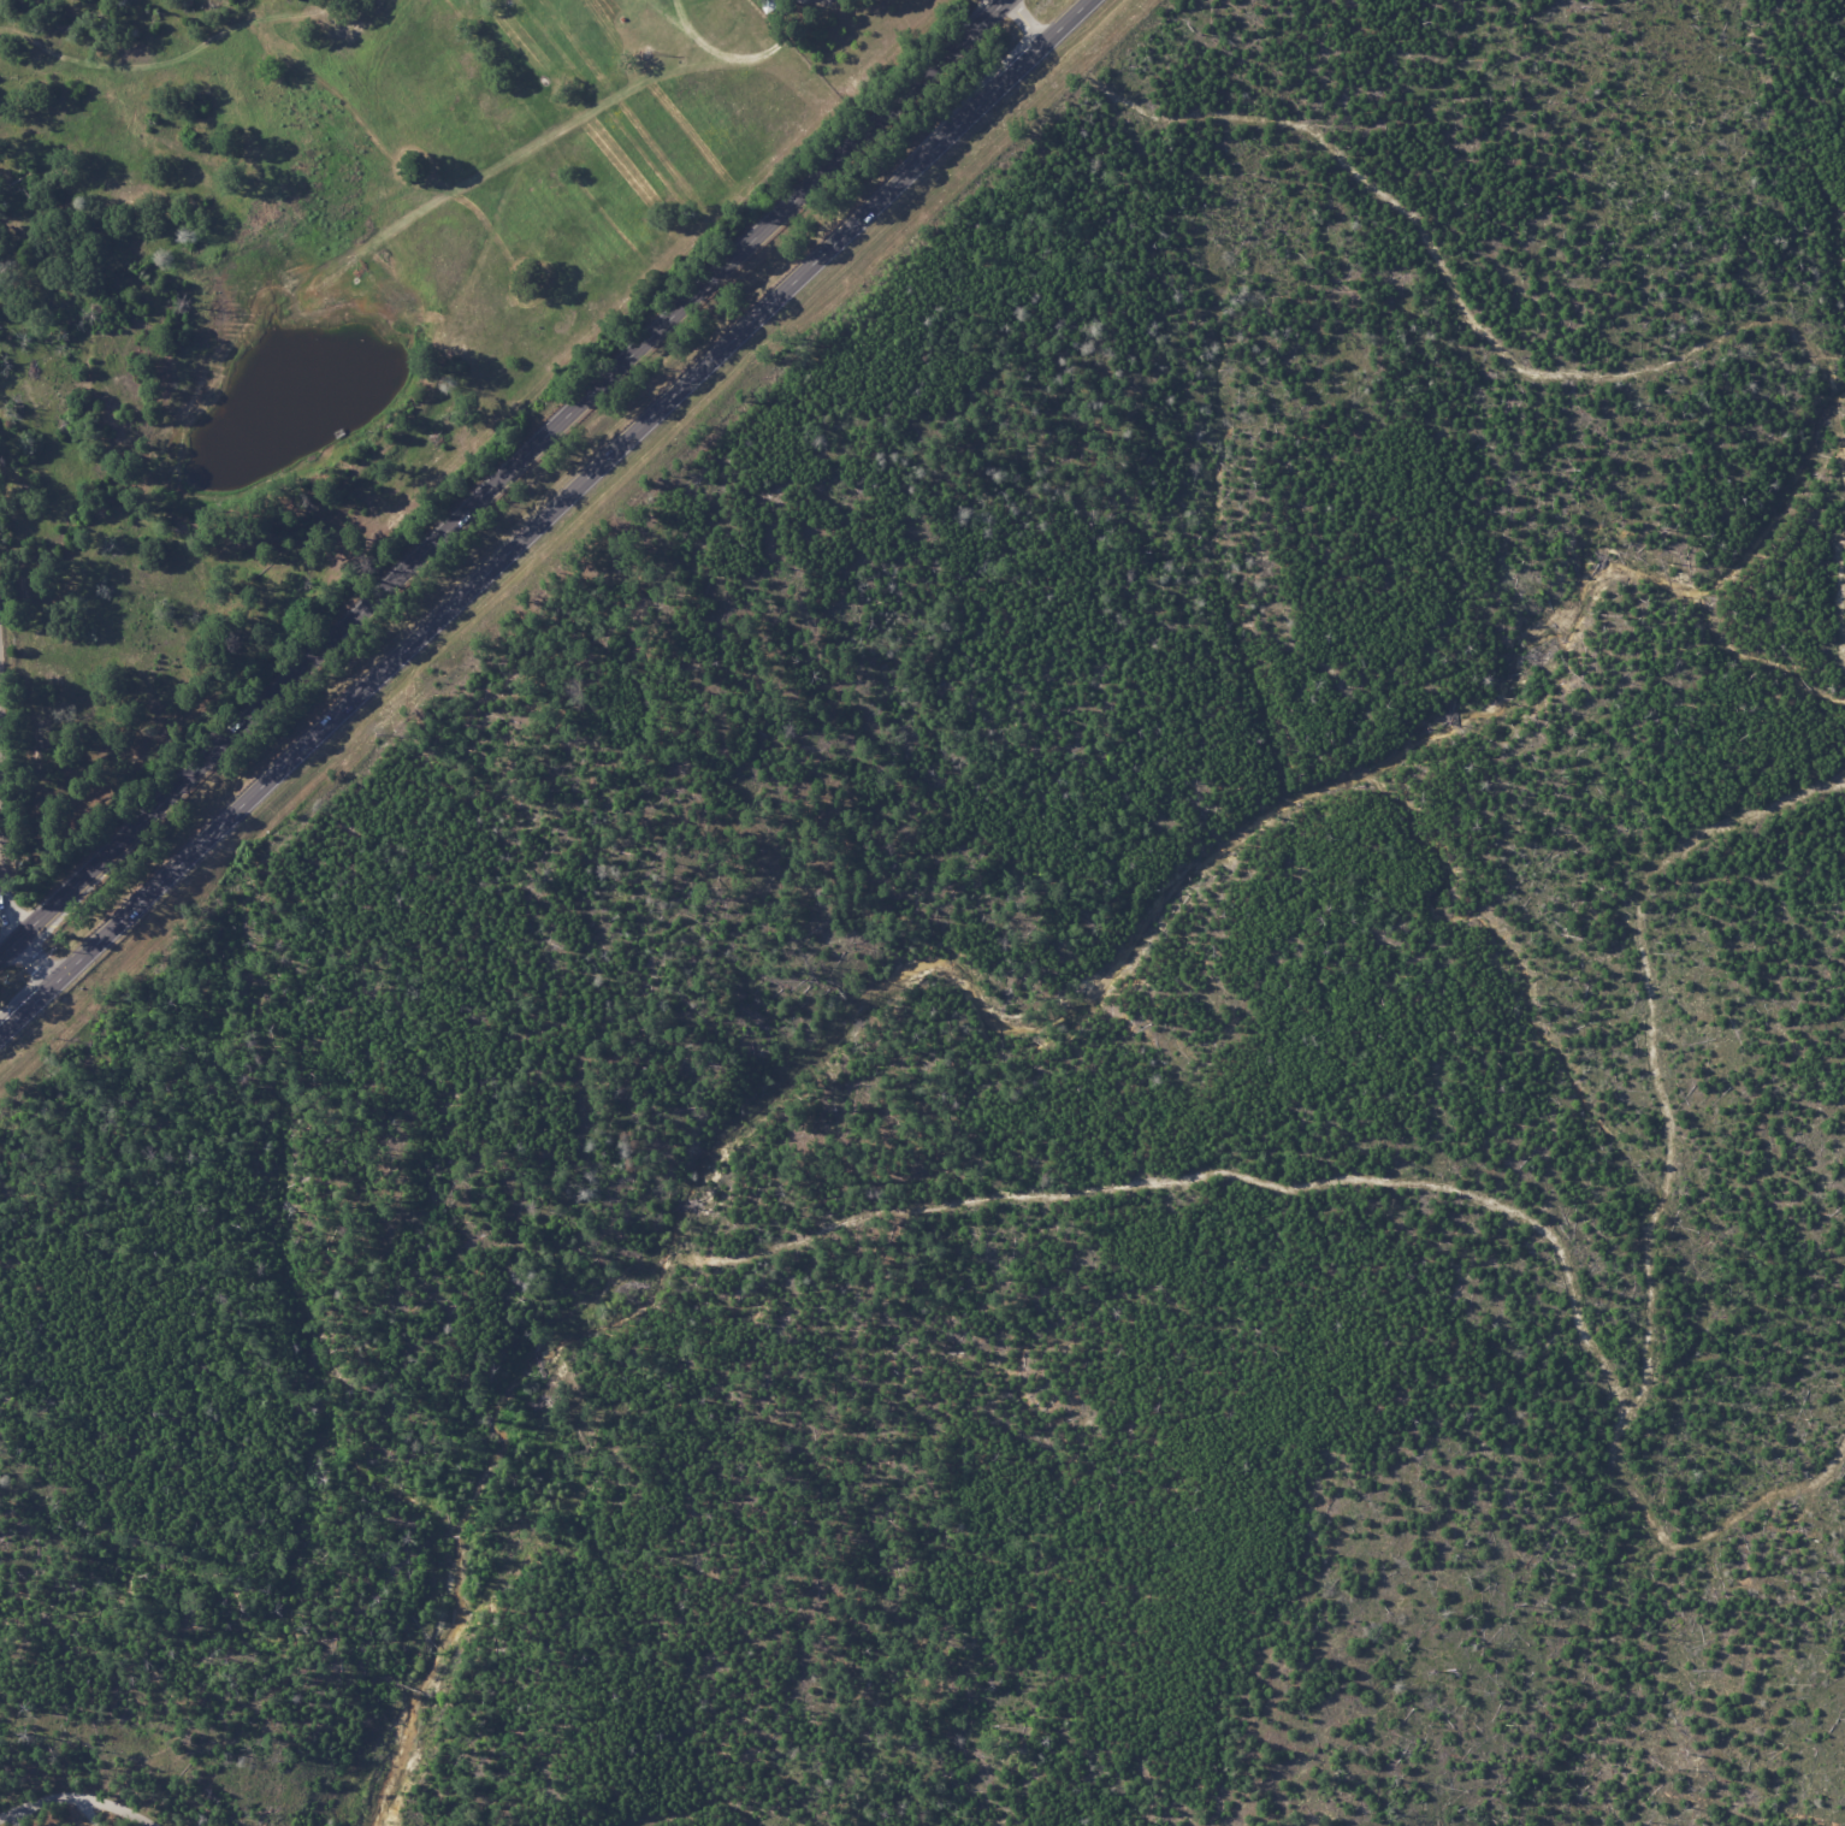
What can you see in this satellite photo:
road: (993, 4)
road: (1027, 20)
road: (692, 159)
road: (502, 477)
road: (544, 516)
road: (0, 707)
road: (17, 932)
park: (1053, 1042)
road: (73, 1800)
road: (87, 1813)
road: (23, 1815)

